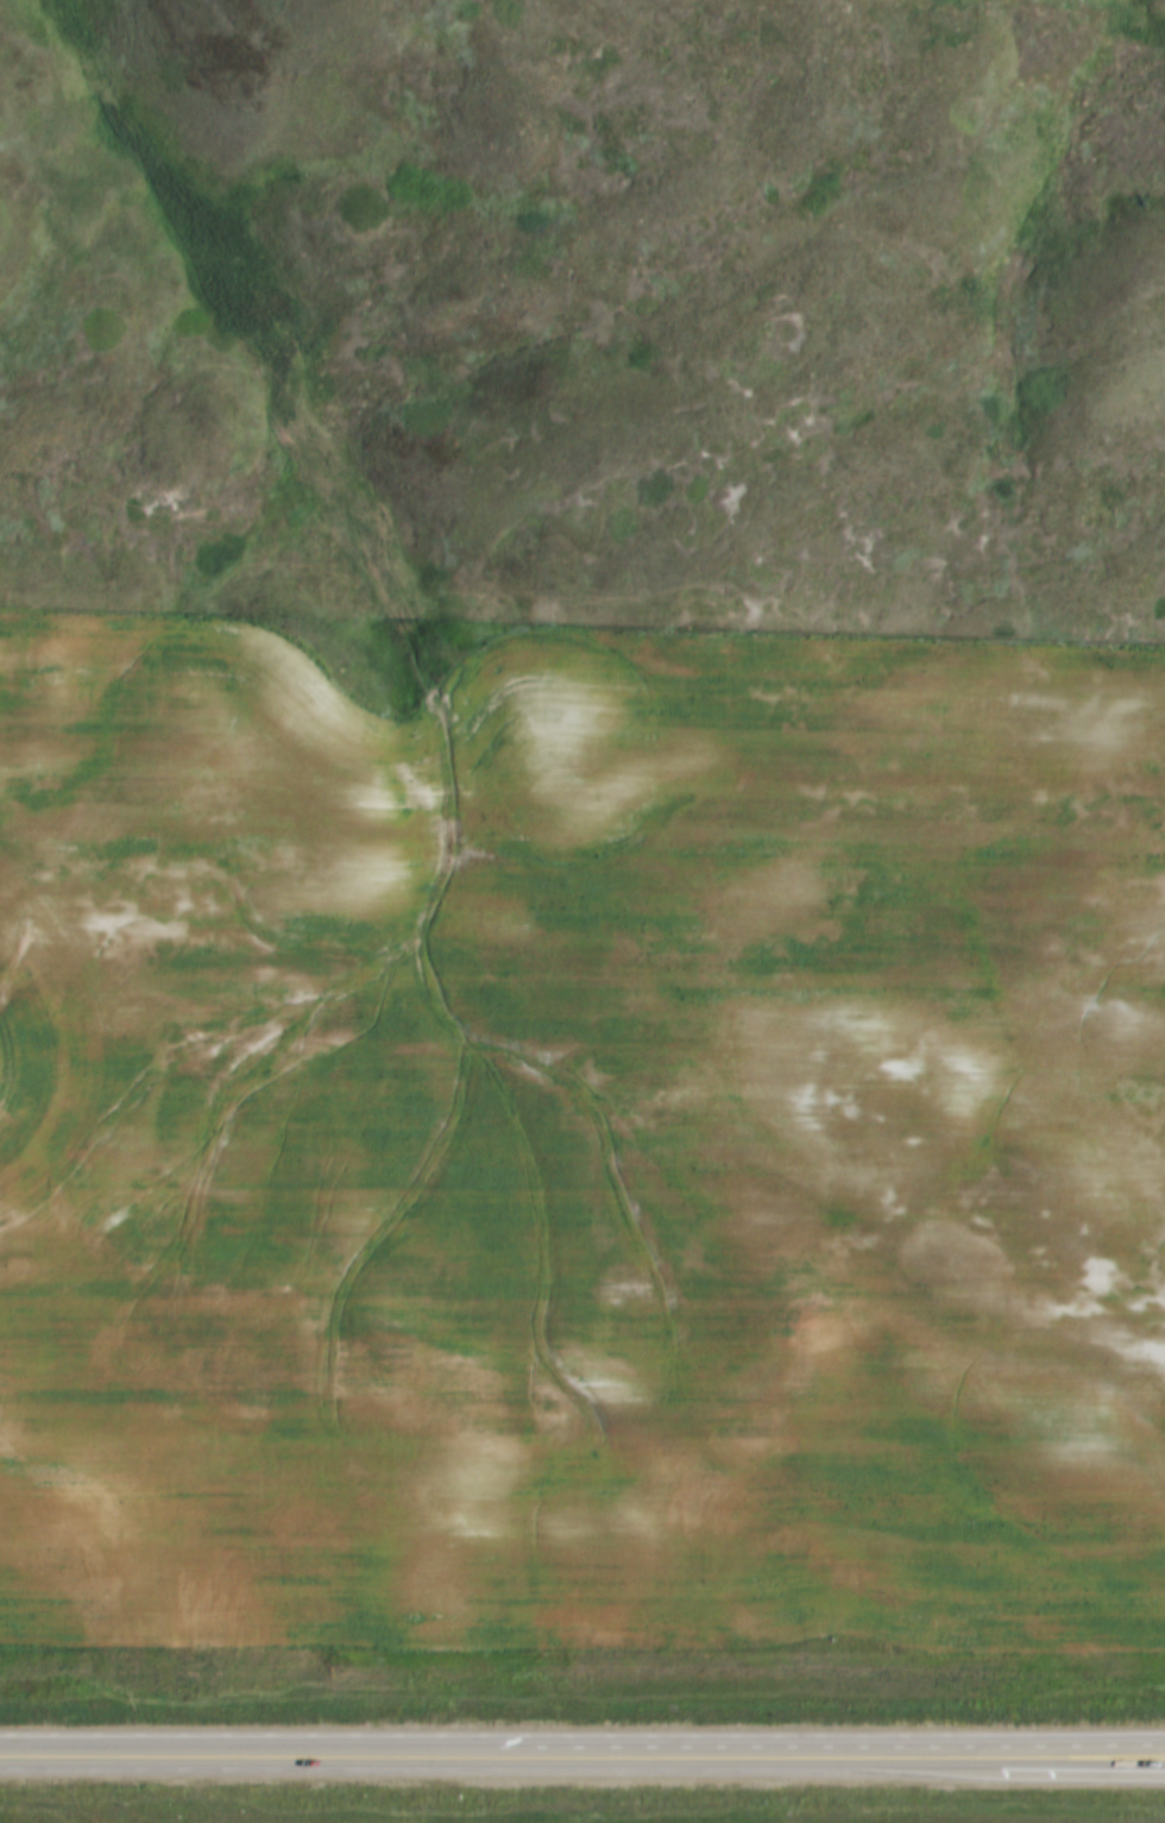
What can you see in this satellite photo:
road: (747, 1759)
road: (248, 1761)
road: (1081, 1761)

